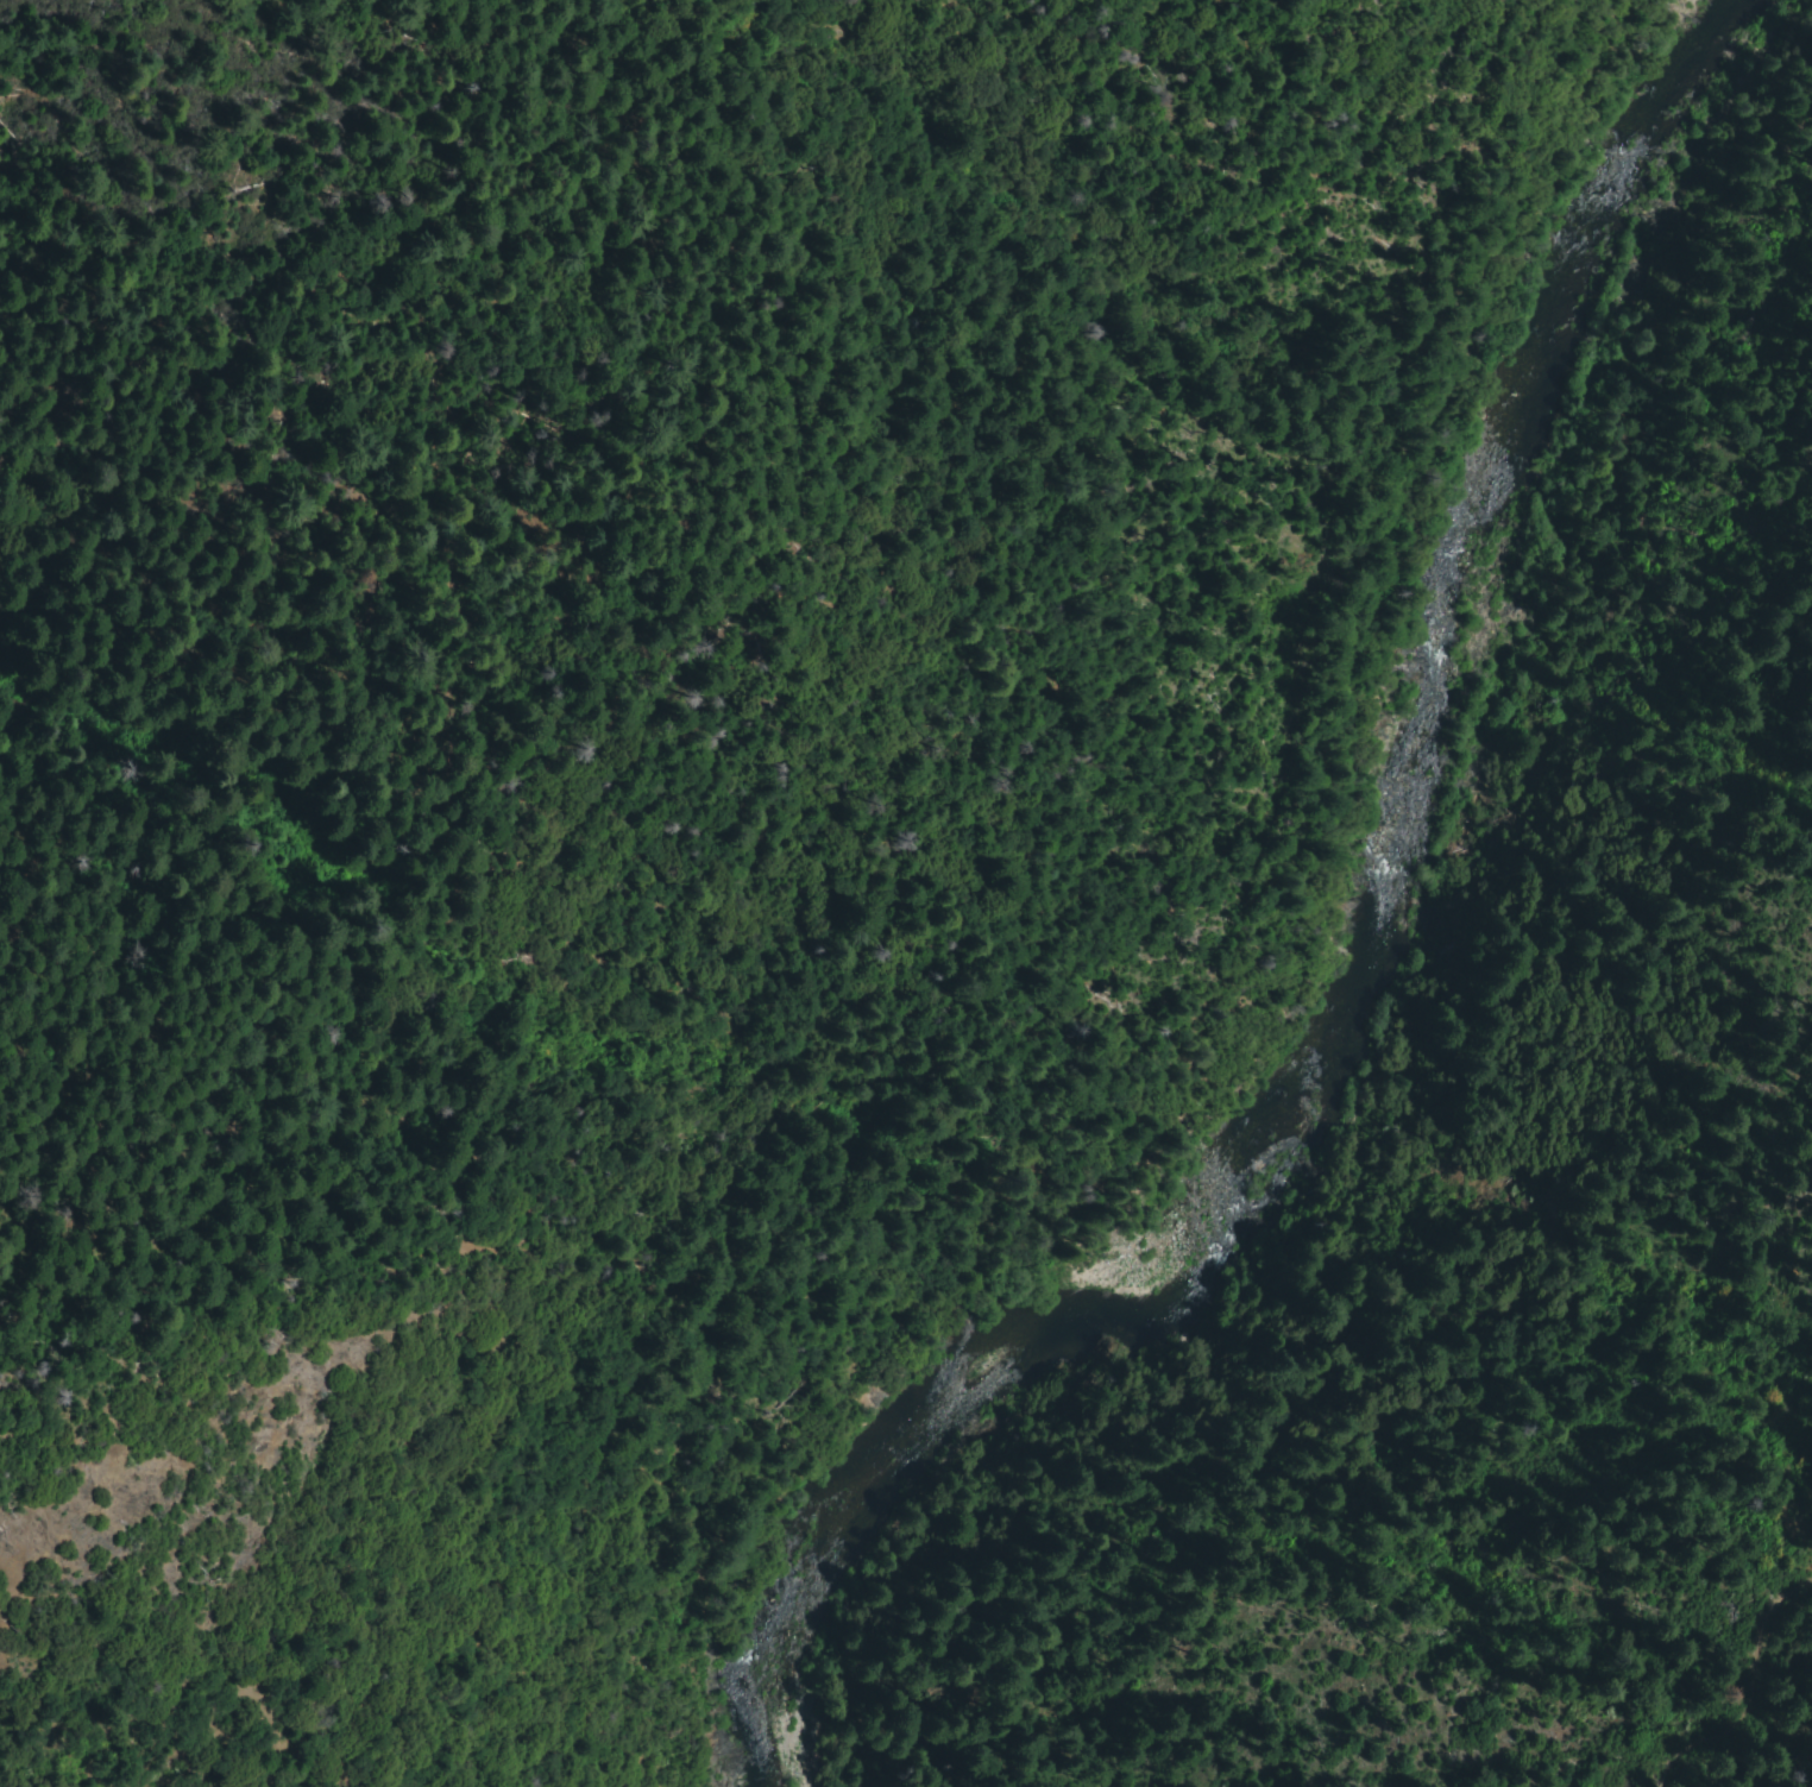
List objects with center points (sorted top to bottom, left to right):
road: (1758, 1697)

